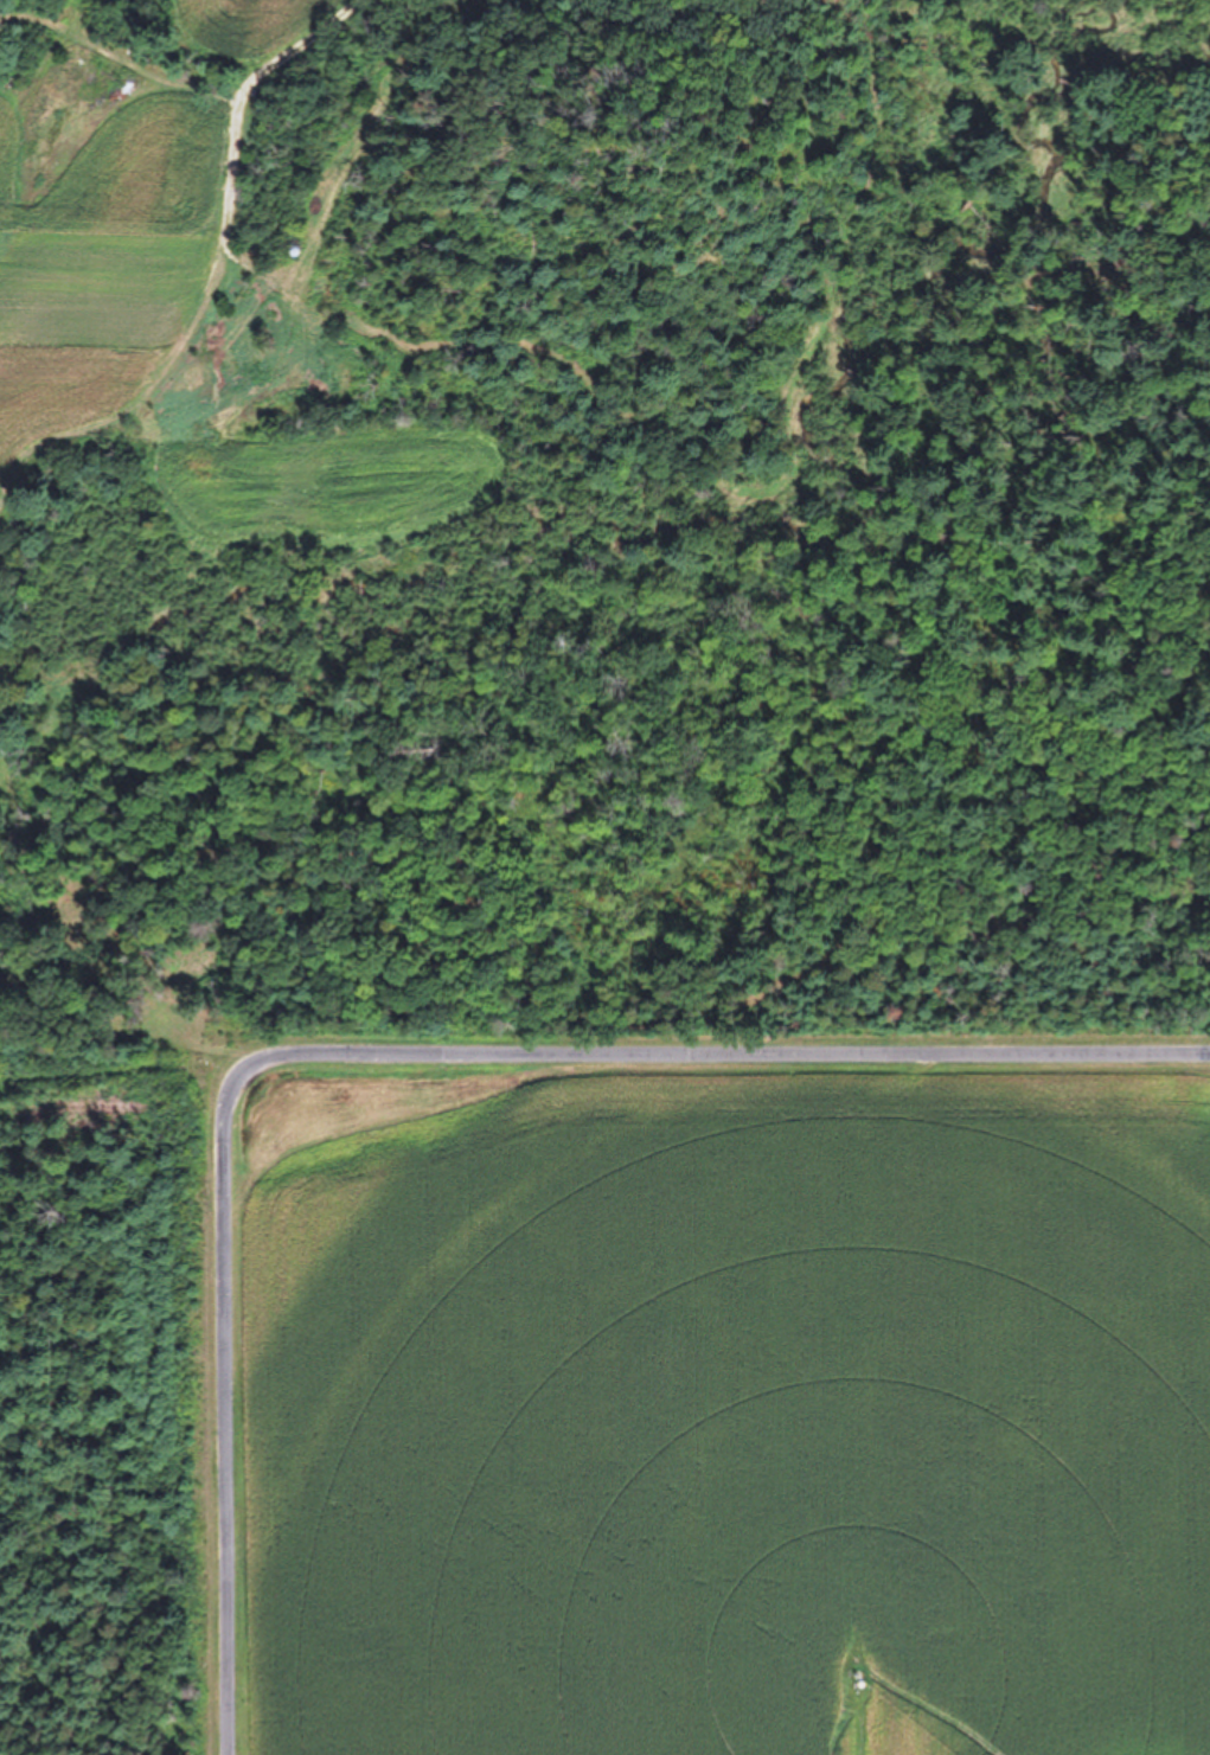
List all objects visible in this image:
road: (379, 1055)

